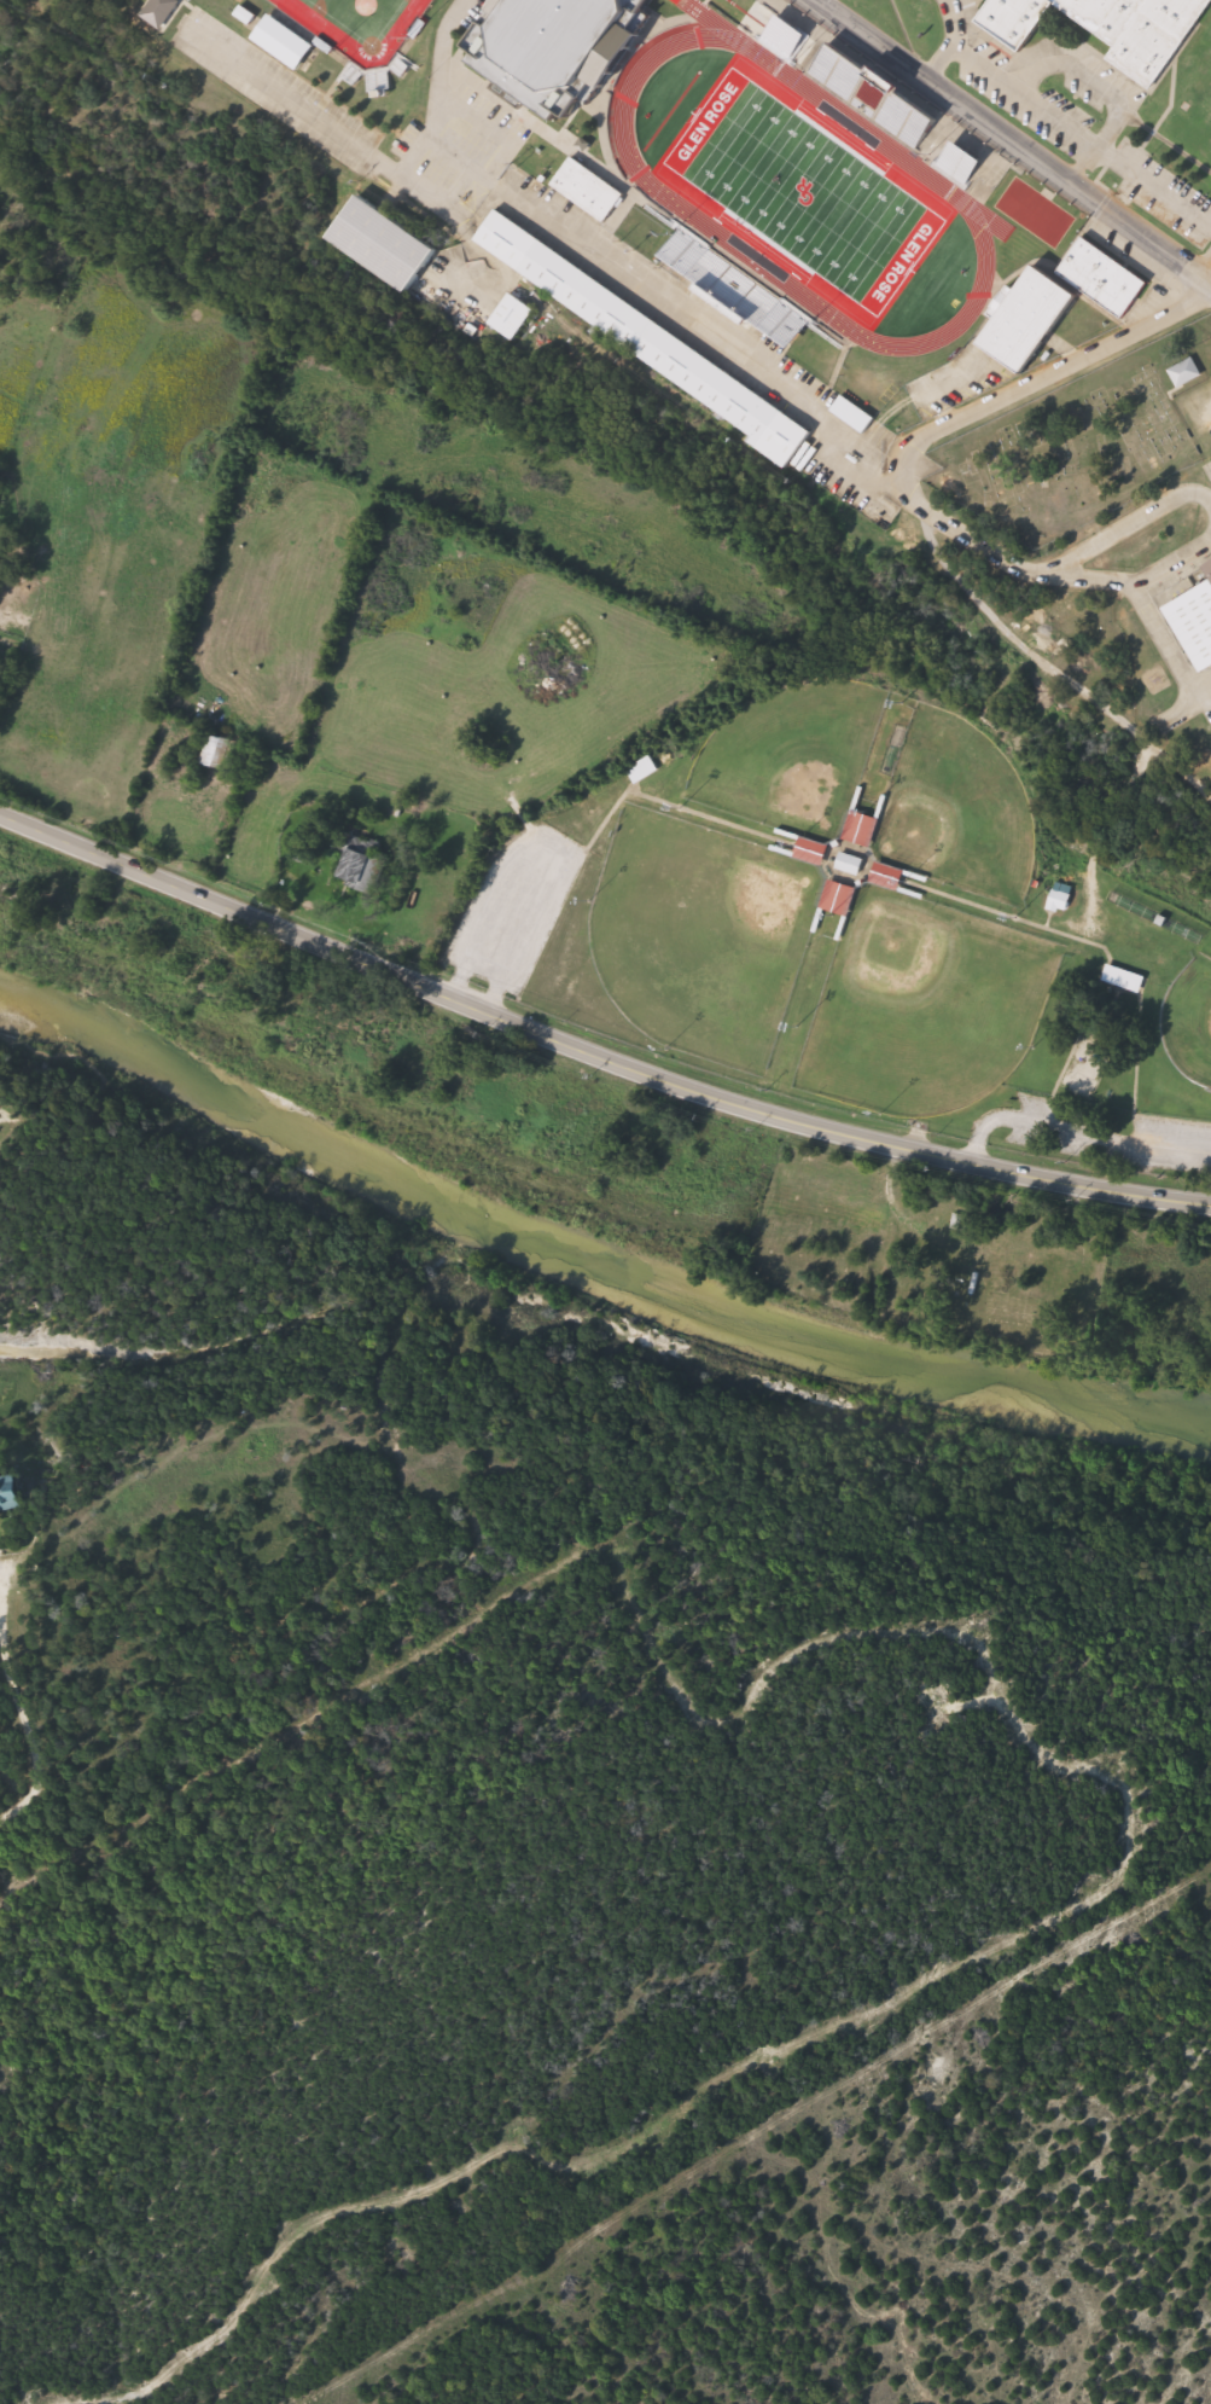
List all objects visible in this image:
building: (169, 12)
park: (361, 24)
building: (1111, 25)
park: (554, 31)
road: (944, 40)
road: (1020, 87)
road: (1012, 140)
building: (962, 164)
road: (1152, 182)
building: (588, 188)
park: (808, 192)
building: (389, 244)
road: (1203, 256)
building: (700, 259)
road: (615, 262)
building: (1059, 300)
building: (516, 317)
building: (653, 341)
building: (1188, 373)
road: (699, 411)
building: (856, 414)
park: (1071, 452)
road: (899, 465)
road: (1125, 518)
building: (0, 563)
building: (1, 579)
building: (1195, 617)
building: (217, 751)
park: (788, 753)
building: (644, 770)
park: (959, 809)
building: (363, 864)
building: (851, 864)
building: (1064, 898)
park: (860, 928)
park: (704, 936)
building: (1126, 979)
park: (926, 1005)
park: (1189, 1022)
road: (592, 1053)
building: (12, 1493)

